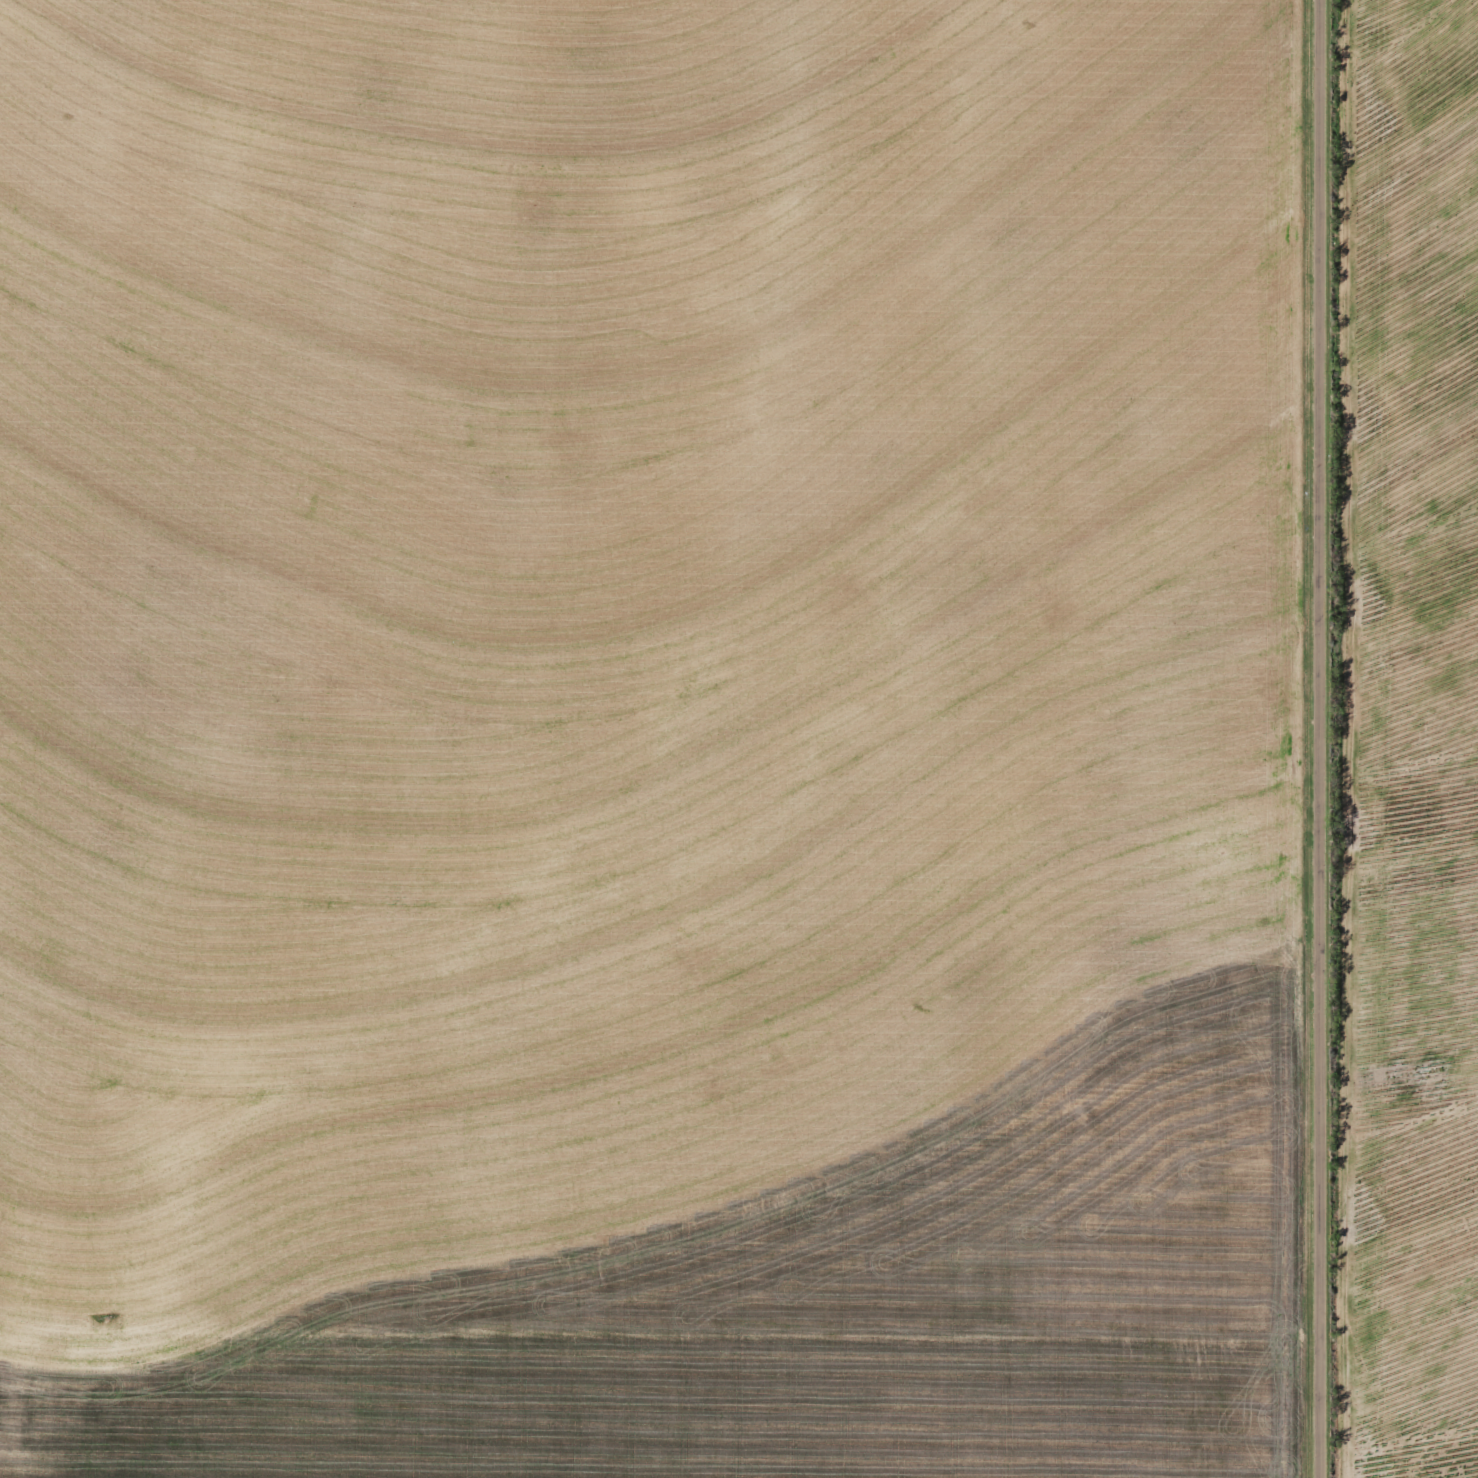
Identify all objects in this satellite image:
road: (1288, 739)

